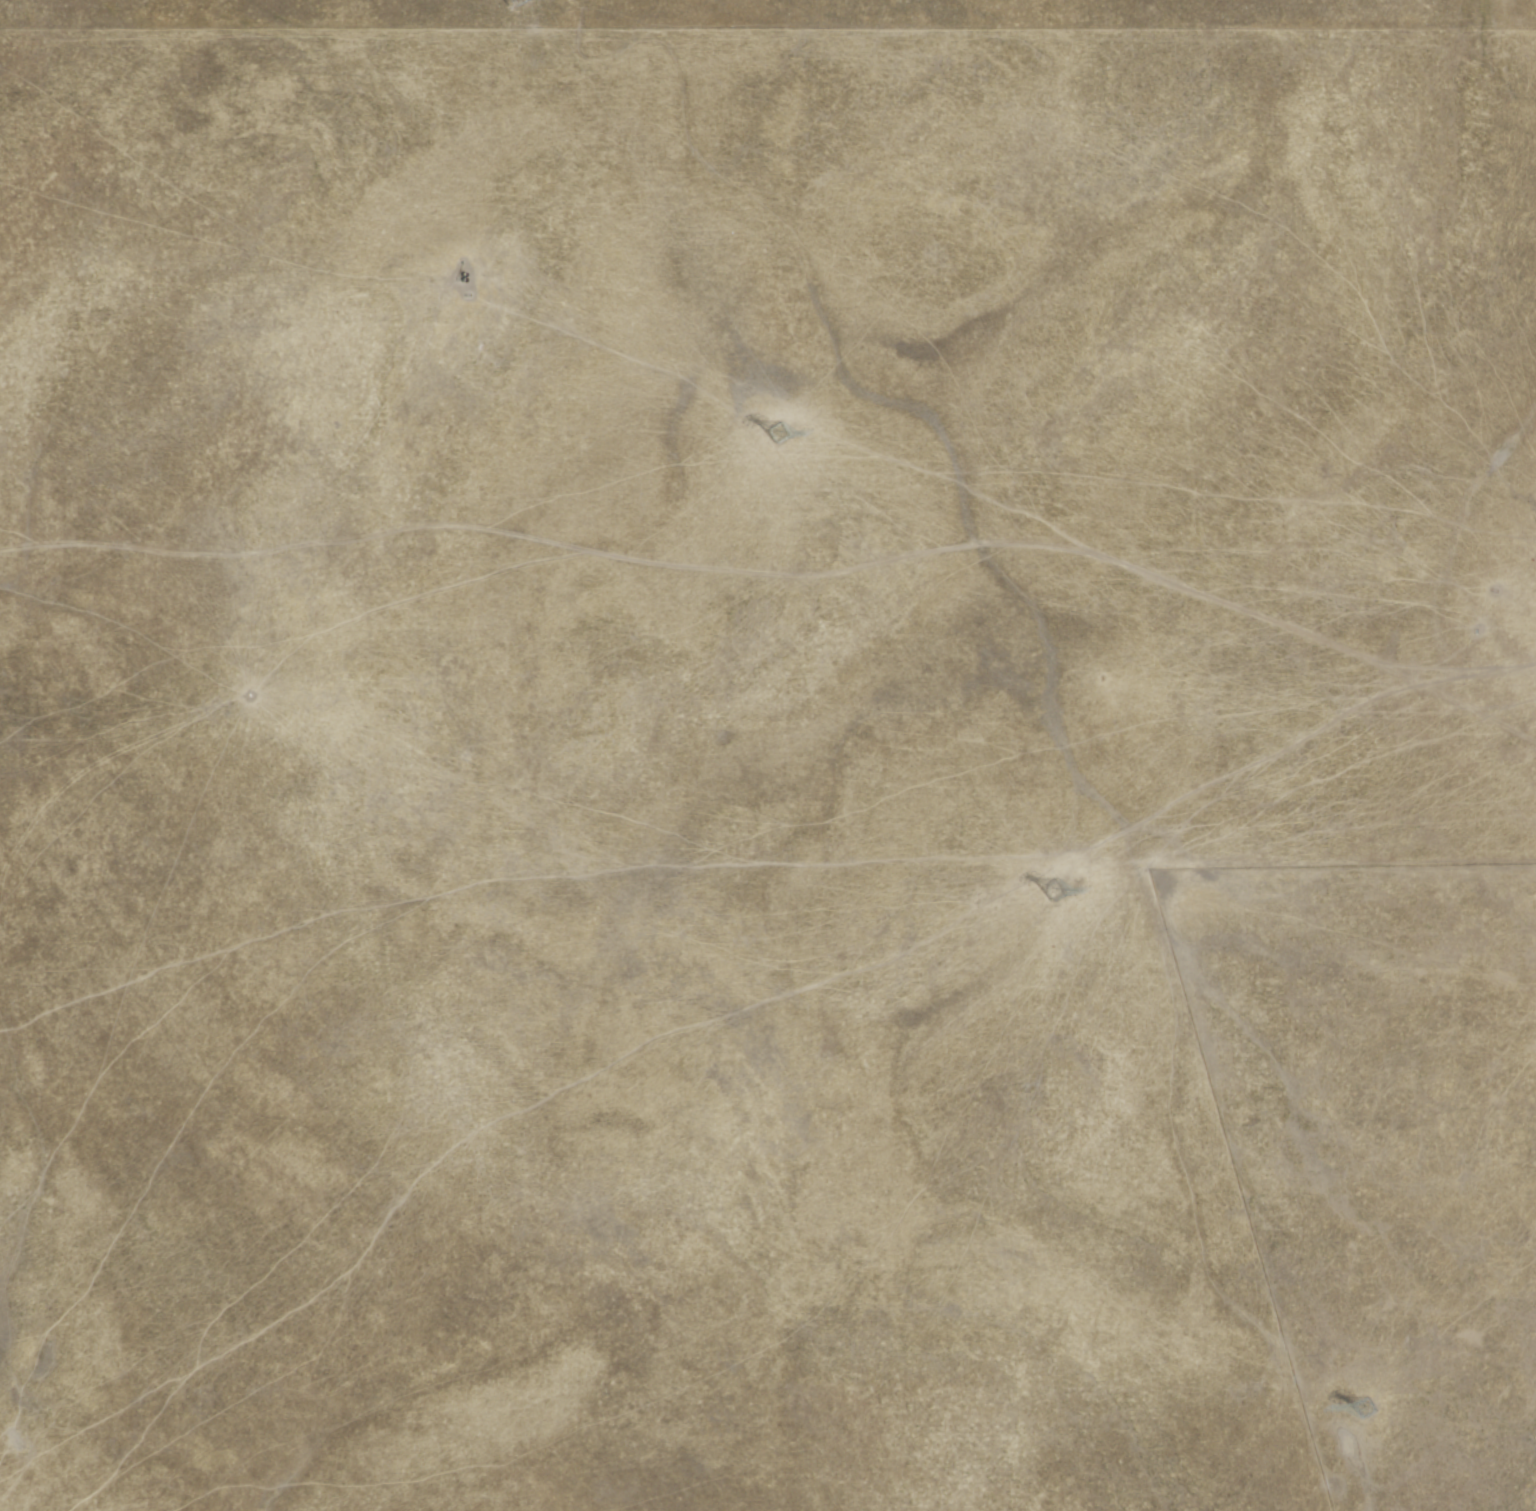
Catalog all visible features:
power tower: (776, 432)
power tower: (1052, 889)
building: (1052, 891)
power tower: (1366, 1410)

